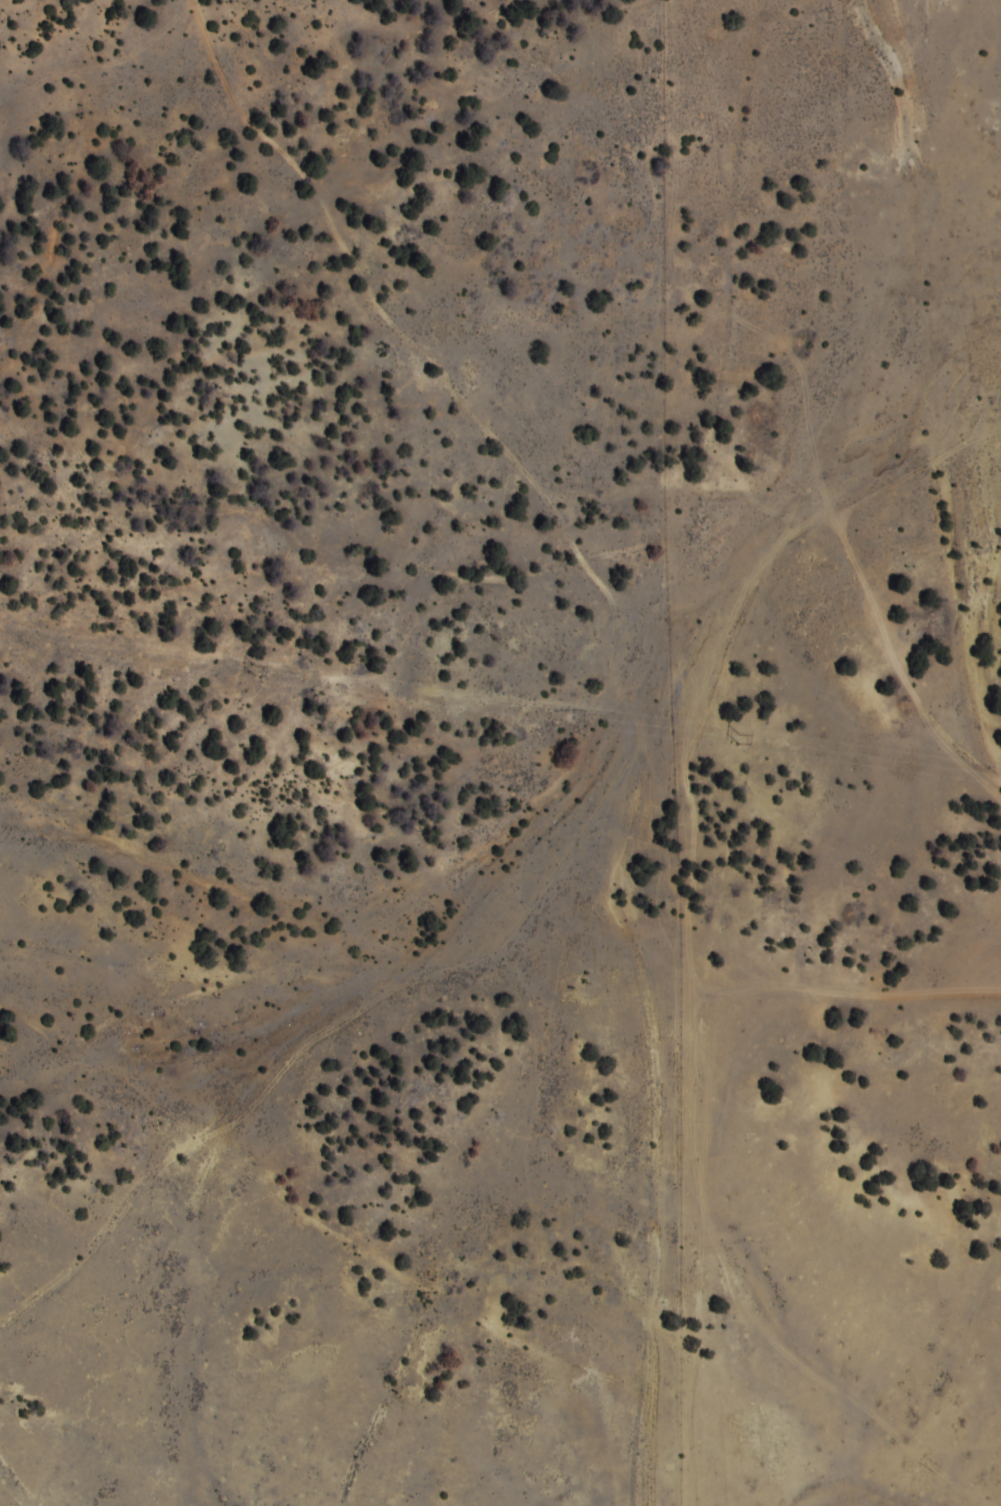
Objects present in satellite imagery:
road: (389, 356)
power tower: (254, 673)
power tower: (741, 741)

